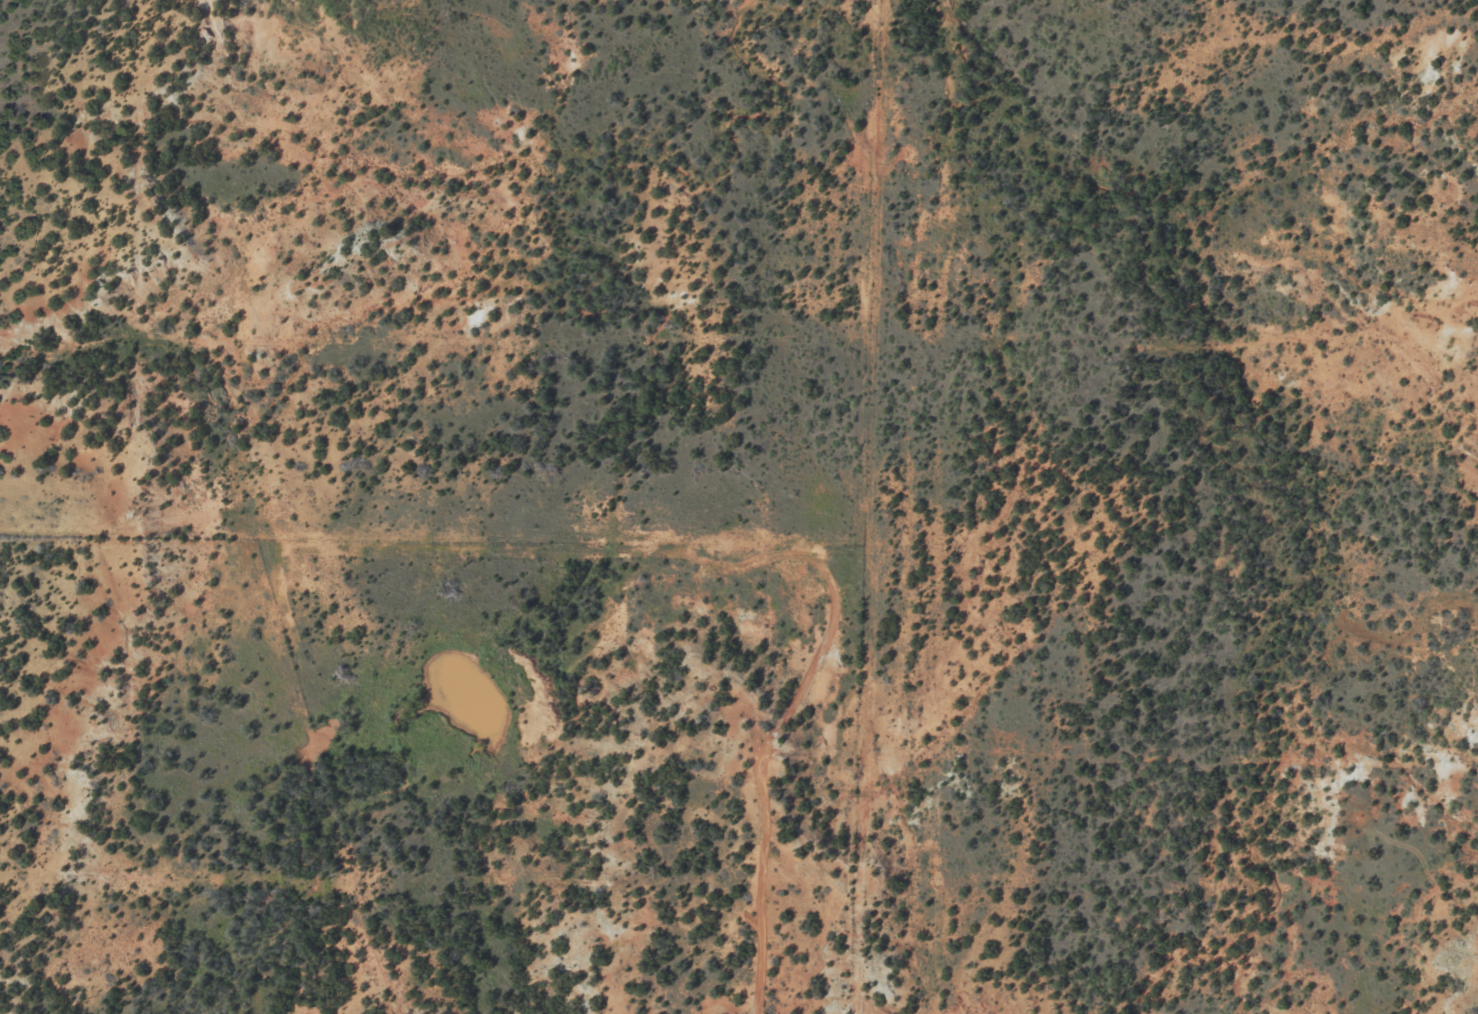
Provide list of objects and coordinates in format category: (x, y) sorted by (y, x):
road: (53, 74)
road: (149, 893)

